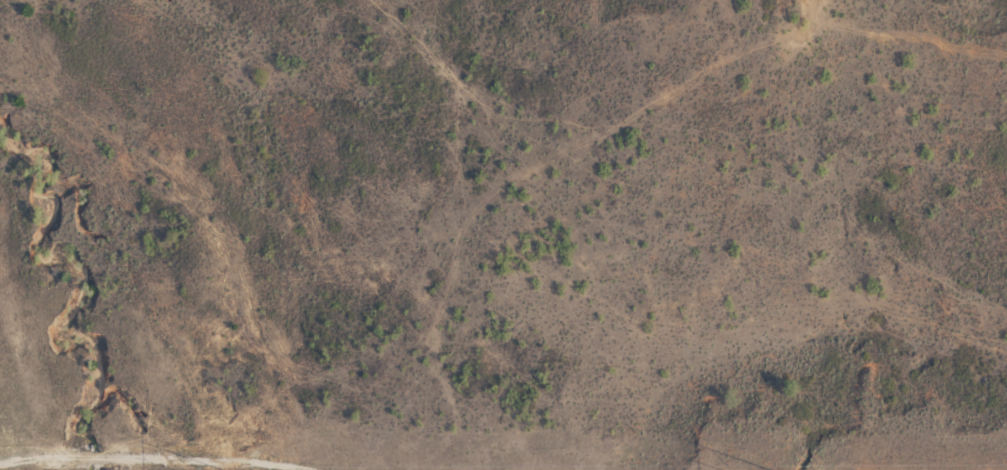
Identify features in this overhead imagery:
road: (404, 368)

